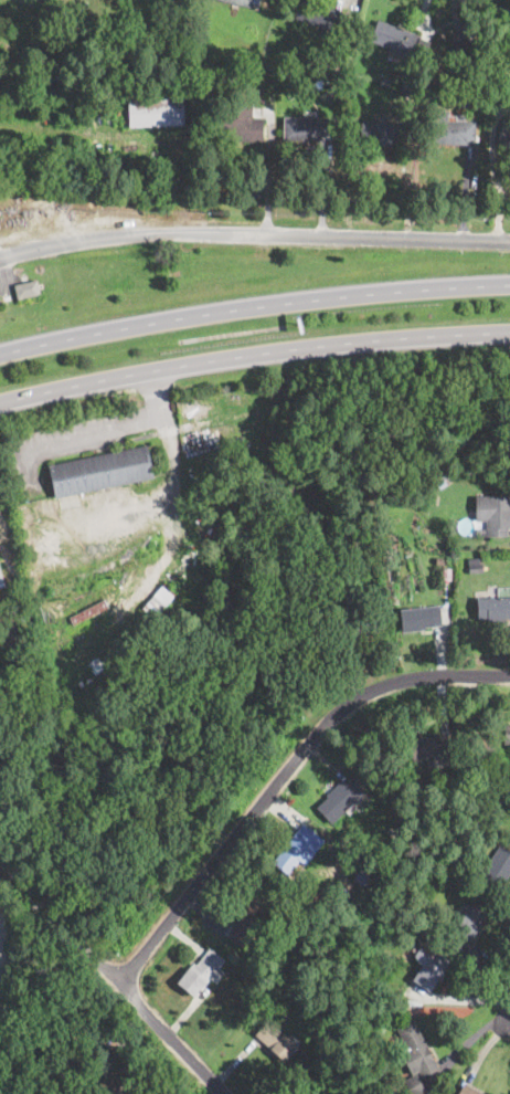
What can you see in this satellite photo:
building: (244, 2)
road: (496, 4)
building: (174, 13)
building: (317, 13)
building: (87, 22)
building: (155, 28)
building: (394, 39)
building: (461, 46)
building: (466, 66)
building: (17, 67)
building: (334, 70)
building: (211, 78)
building: (383, 82)
building: (307, 84)
building: (444, 84)
building: (472, 87)
building: (407, 88)
building: (509, 91)
building: (155, 112)
building: (241, 124)
building: (305, 128)
building: (450, 129)
building: (504, 132)
building: (379, 134)
building: (36, 192)
road: (254, 234)
building: (26, 290)
road: (252, 303)
road: (253, 356)
road: (116, 418)
building: (99, 471)
building: (439, 475)
building: (493, 514)
building: (476, 568)
building: (447, 574)
building: (1, 581)
building: (158, 600)
building: (491, 608)
building: (418, 617)
building: (355, 625)
building: (506, 734)
building: (424, 746)
road: (283, 776)
building: (338, 798)
building: (296, 848)
building: (496, 870)
building: (362, 876)
building: (249, 916)
building: (466, 926)
building: (293, 966)
building: (314, 967)
building: (427, 968)
building: (195, 976)
road: (114, 979)
building: (256, 991)
road: (471, 999)
road: (509, 1016)
building: (366, 1038)
building: (274, 1039)
building: (415, 1050)
building: (75, 1076)
building: (415, 1085)
building: (107, 1086)
building: (467, 1090)
building: (370, 1093)

